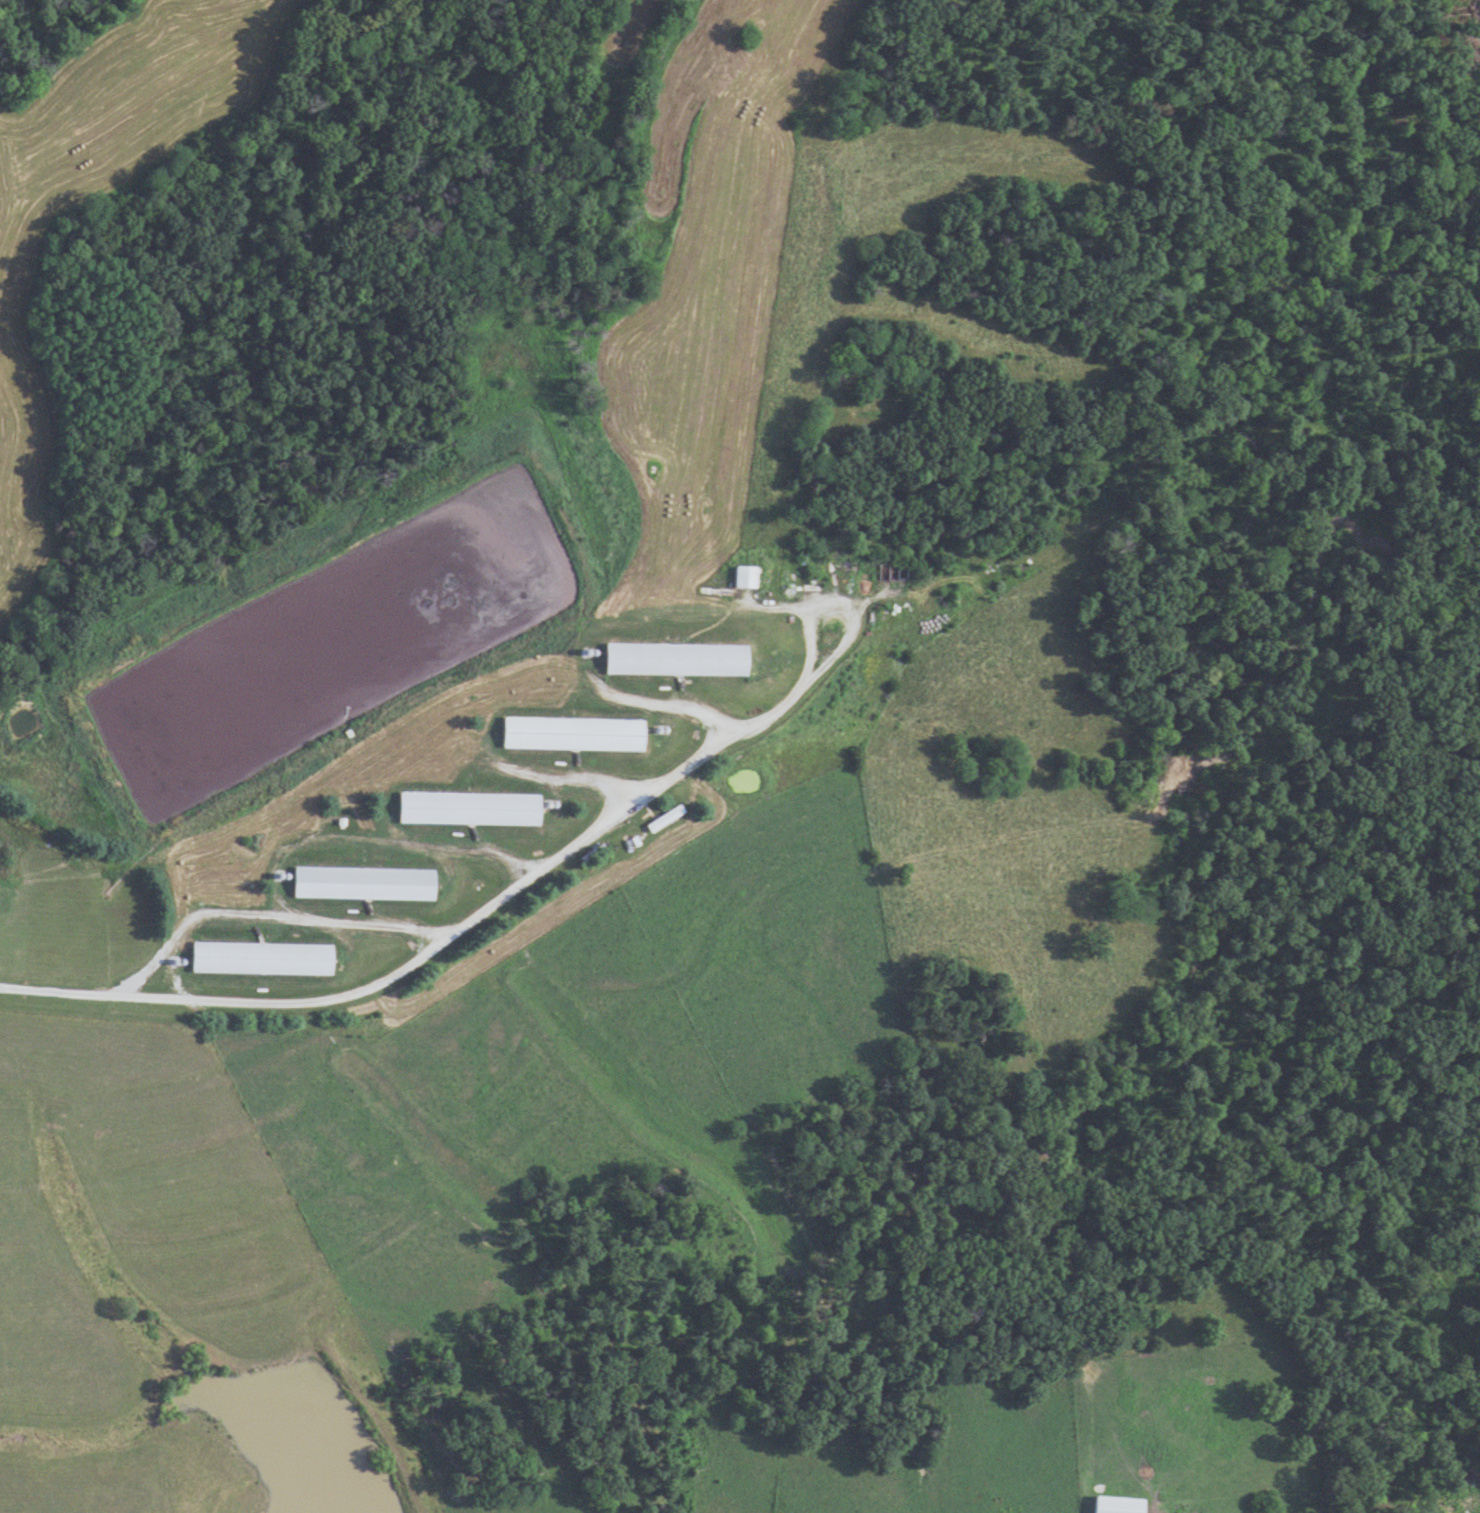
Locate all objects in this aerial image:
building: (747, 577)
road: (867, 615)
building: (679, 660)
building: (576, 734)
building: (472, 809)
building: (667, 819)
building: (367, 884)
road: (447, 950)
building: (265, 959)
building: (1121, 1504)

